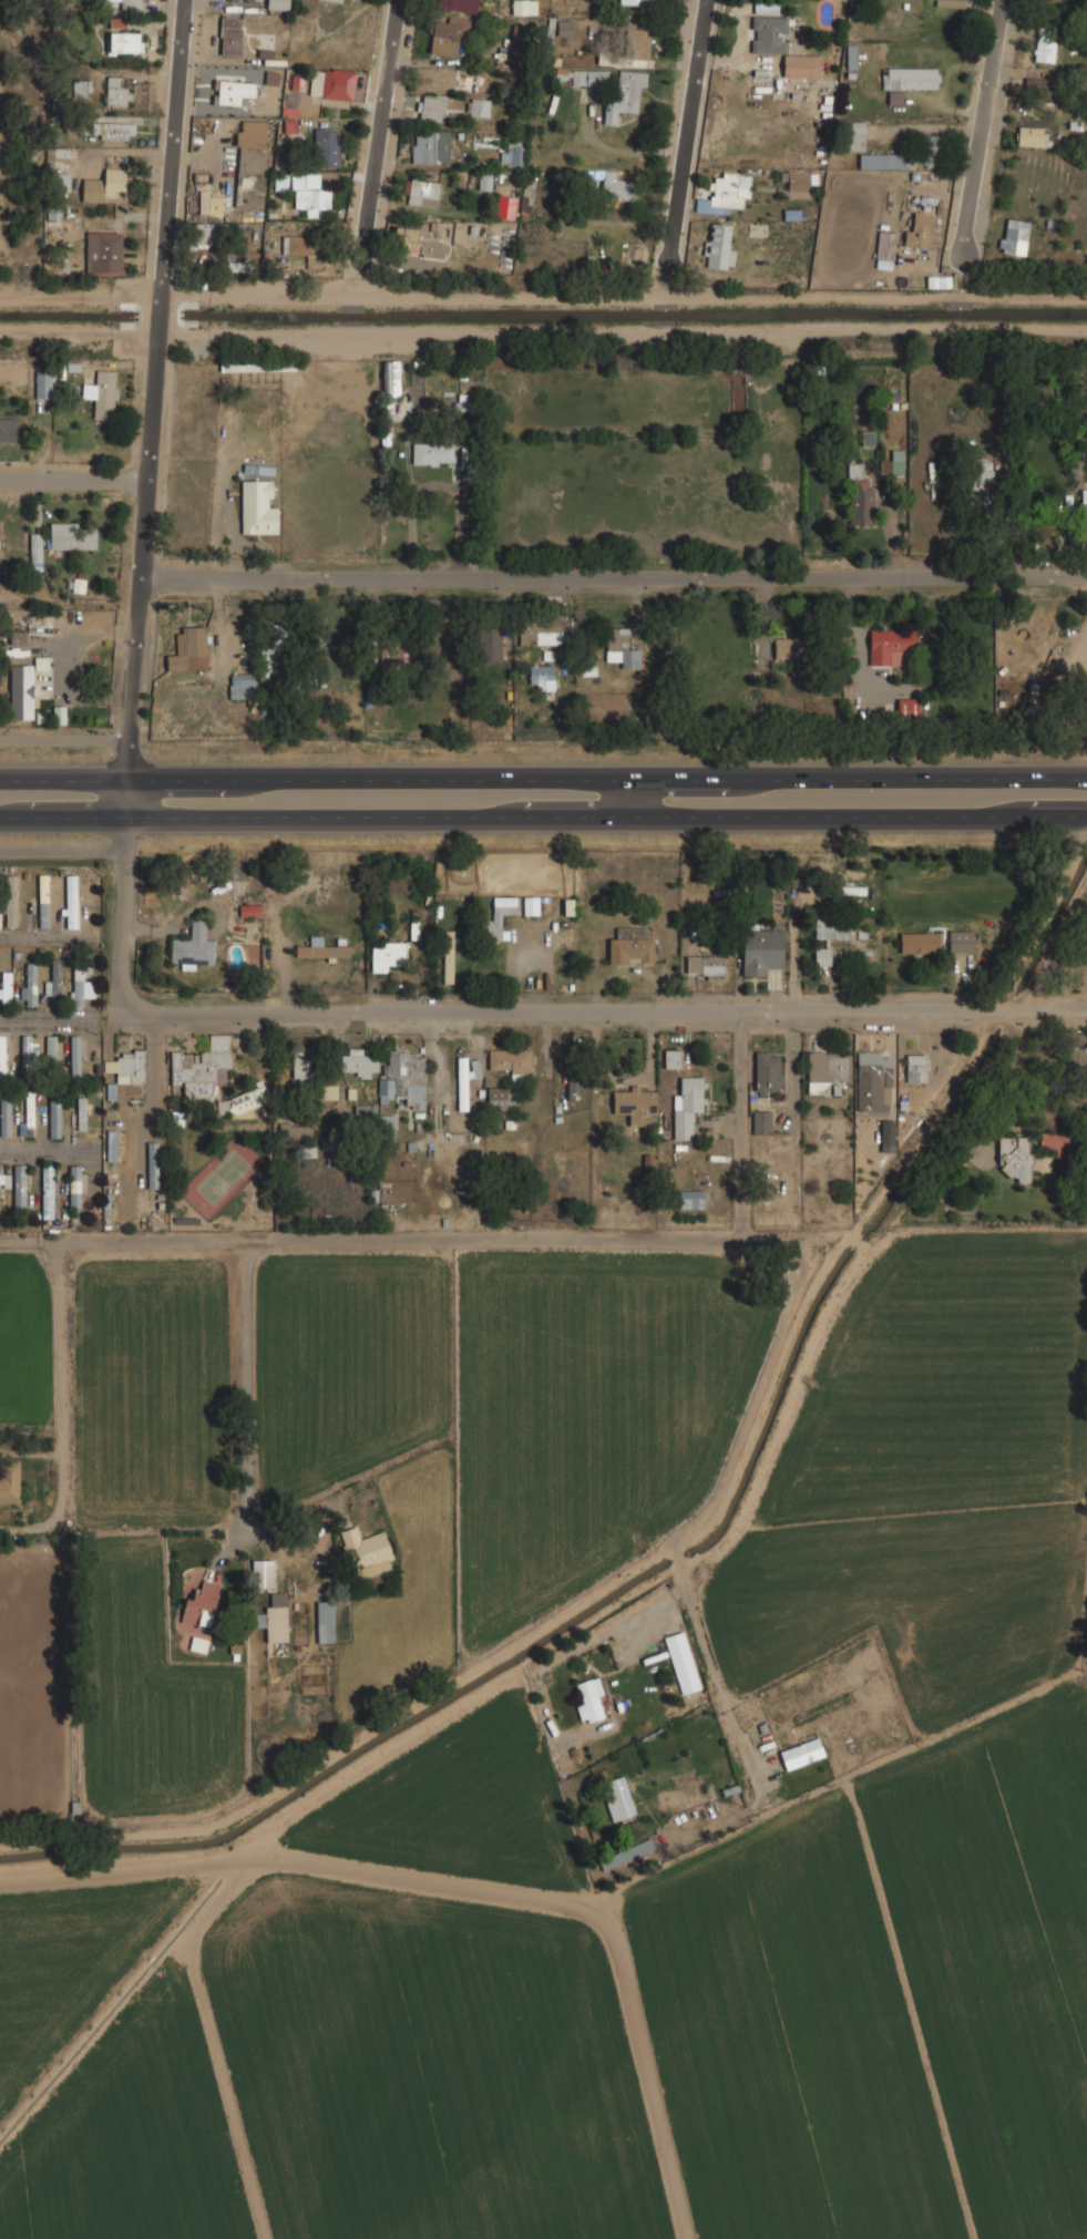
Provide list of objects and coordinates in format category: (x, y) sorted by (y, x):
building: (335, 0)
building: (635, 2)
building: (948, 2)
building: (130, 4)
building: (277, 4)
building: (462, 6)
building: (117, 22)
building: (564, 28)
building: (448, 33)
building: (230, 34)
building: (515, 40)
building: (124, 41)
building: (779, 41)
building: (634, 43)
building: (1044, 49)
building: (583, 75)
building: (906, 80)
building: (331, 82)
building: (297, 83)
building: (1033, 84)
building: (81, 86)
building: (233, 91)
building: (464, 91)
building: (116, 92)
building: (624, 94)
building: (432, 107)
building: (289, 120)
building: (117, 130)
road: (981, 133)
road: (381, 134)
road: (680, 134)
building: (851, 135)
building: (1032, 135)
building: (430, 145)
building: (328, 146)
building: (931, 150)
building: (515, 153)
building: (57, 155)
building: (248, 161)
building: (880, 161)
building: (484, 179)
building: (62, 181)
building: (798, 183)
building: (103, 185)
building: (616, 186)
building: (420, 192)
building: (726, 192)
building: (308, 196)
building: (209, 202)
building: (504, 206)
building: (919, 228)
building: (1013, 236)
building: (421, 242)
building: (297, 244)
building: (884, 245)
building: (718, 246)
building: (105, 253)
building: (234, 265)
building: (256, 364)
building: (391, 378)
building: (42, 384)
building: (102, 393)
building: (388, 403)
building: (7, 431)
building: (431, 452)
building: (898, 461)
building: (884, 466)
building: (982, 470)
road: (75, 485)
building: (1084, 500)
building: (258, 505)
building: (861, 505)
road: (148, 506)
building: (71, 535)
building: (34, 546)
road: (615, 579)
building: (540, 633)
building: (18, 637)
building: (396, 641)
building: (276, 643)
building: (489, 643)
building: (889, 643)
building: (788, 646)
building: (188, 647)
building: (619, 651)
building: (541, 676)
building: (240, 685)
building: (21, 691)
building: (907, 707)
road: (68, 740)
road: (66, 778)
road: (609, 778)
road: (630, 798)
road: (543, 816)
building: (853, 889)
building: (10, 900)
building: (42, 900)
building: (71, 900)
building: (531, 904)
building: (567, 907)
building: (249, 911)
building: (498, 916)
building: (831, 930)
road: (42, 937)
building: (935, 941)
building: (630, 945)
building: (193, 948)
building: (320, 948)
building: (760, 948)
building: (387, 954)
building: (821, 955)
building: (448, 962)
building: (704, 966)
building: (29, 982)
building: (54, 982)
building: (80, 982)
building: (4, 987)
road: (603, 1011)
road: (43, 1020)
building: (2, 1056)
building: (51, 1056)
building: (76, 1057)
building: (27, 1058)
building: (671, 1058)
building: (1075, 1059)
building: (359, 1061)
building: (510, 1061)
building: (125, 1065)
building: (873, 1065)
building: (300, 1066)
building: (915, 1067)
building: (825, 1069)
building: (571, 1071)
building: (767, 1071)
building: (212, 1076)
building: (403, 1077)
building: (464, 1077)
building: (329, 1090)
building: (495, 1097)
building: (635, 1103)
building: (686, 1103)
building: (365, 1110)
building: (81, 1112)
building: (53, 1113)
building: (29, 1115)
building: (4, 1117)
building: (760, 1121)
road: (740, 1124)
building: (1056, 1141)
building: (331, 1142)
building: (111, 1144)
road: (42, 1151)
building: (1014, 1156)
building: (152, 1164)
building: (1084, 1164)
park: (223, 1175)
building: (3, 1180)
building: (74, 1185)
building: (20, 1187)
building: (47, 1191)
building: (690, 1198)
power tower: (516, 1222)
road: (745, 1239)
road: (794, 1389)
road: (247, 1407)
crop: (592, 1413)
crop: (229, 1468)
crop: (932, 1471)
building: (9, 1480)
road: (8, 1531)
building: (366, 1551)
building: (260, 1572)
building: (199, 1604)
building: (274, 1616)
building: (324, 1621)
building: (681, 1662)
building: (588, 1699)
building: (800, 1753)
building: (616, 1798)
building: (625, 1852)
road: (117, 1865)
road: (327, 1866)
crop: (73, 1975)
crop: (890, 2006)
crop: (427, 2071)
crop: (129, 2140)

